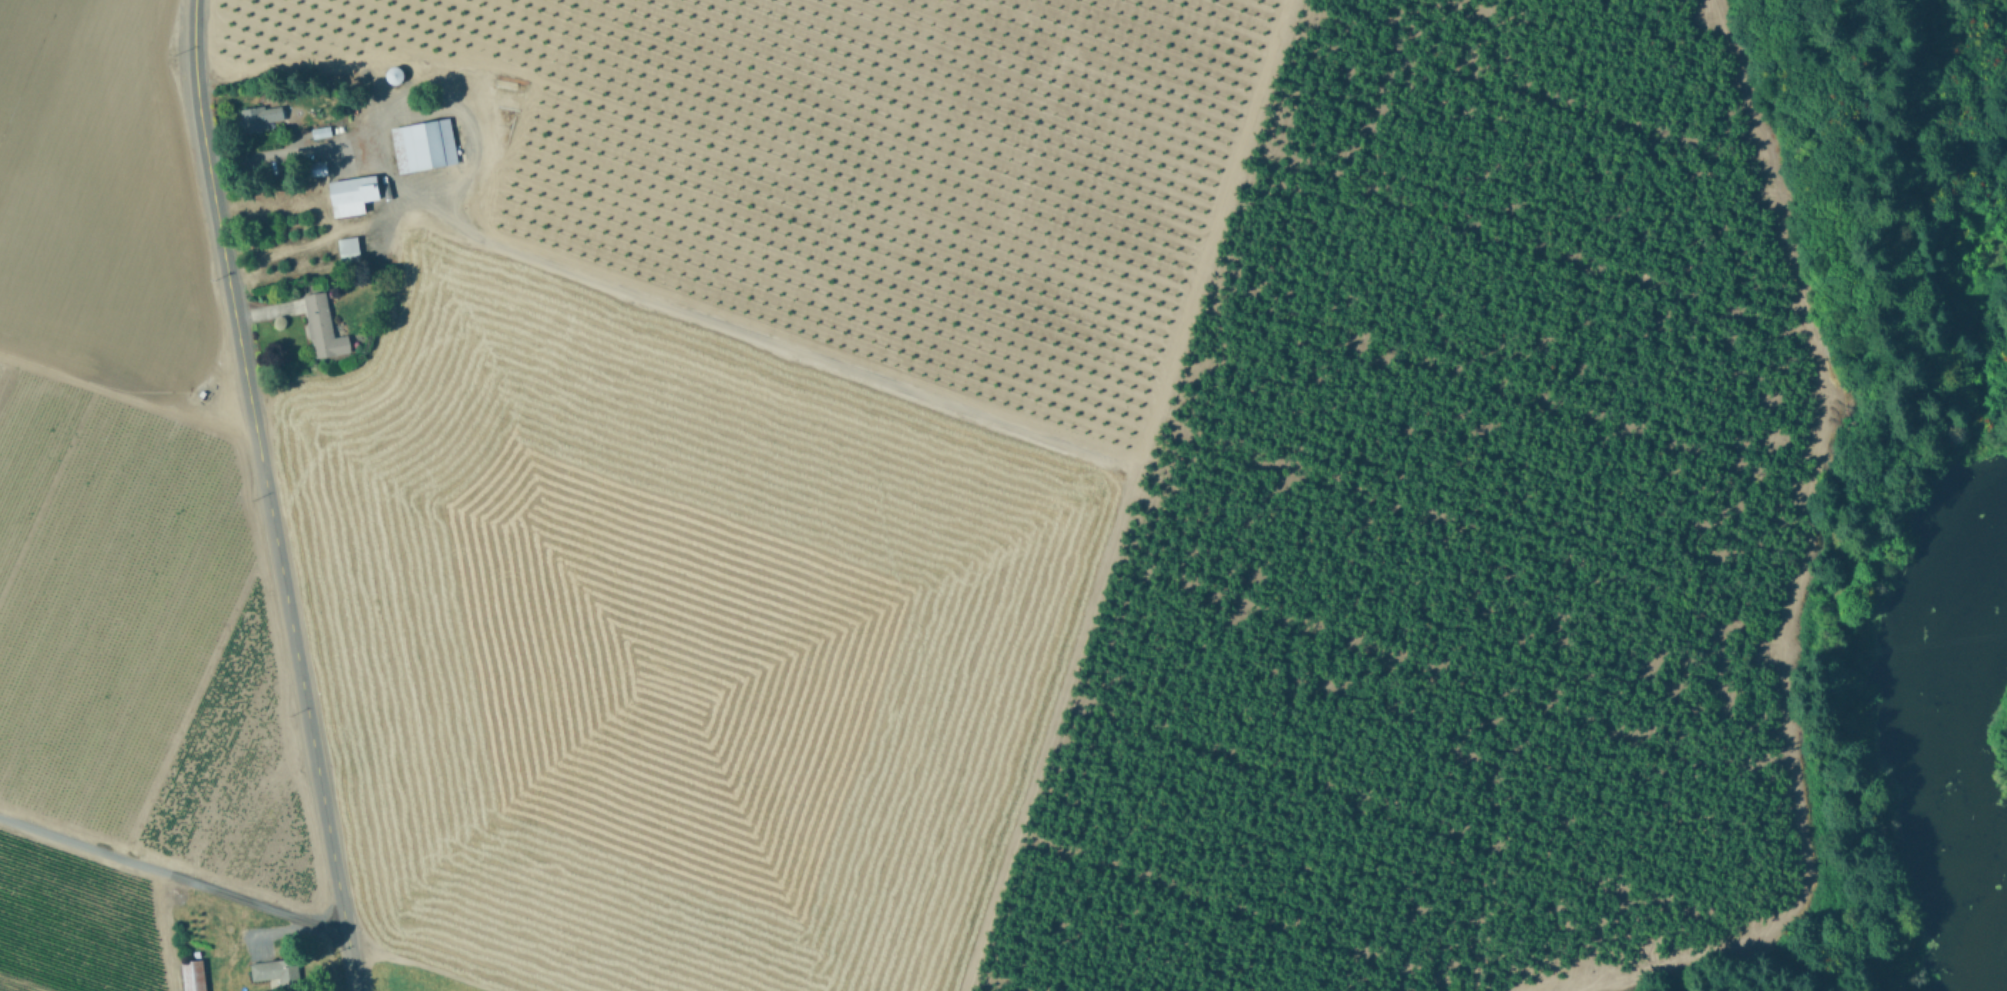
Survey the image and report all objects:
building: (260, 118)
building: (422, 144)
building: (350, 194)
building: (347, 248)
building: (321, 327)
crop: (721, 444)
road: (267, 496)
crop: (131, 552)
road: (174, 877)
building: (273, 970)
building: (192, 975)

